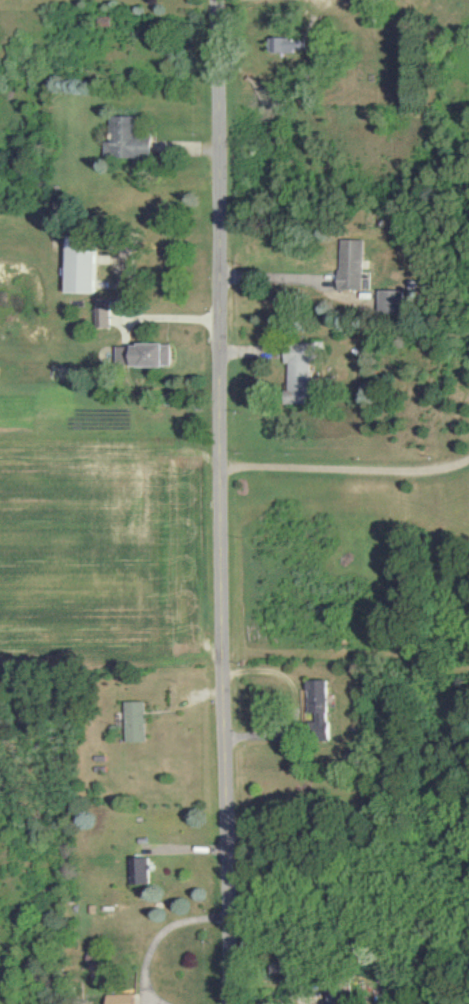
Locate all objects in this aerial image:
building: (281, 45)
building: (126, 140)
building: (353, 265)
building: (84, 266)
road: (274, 274)
building: (392, 300)
building: (106, 315)
road: (165, 316)
building: (147, 355)
building: (302, 366)
road: (226, 501)
building: (324, 707)
building: (140, 722)
building: (143, 871)
road: (160, 937)

